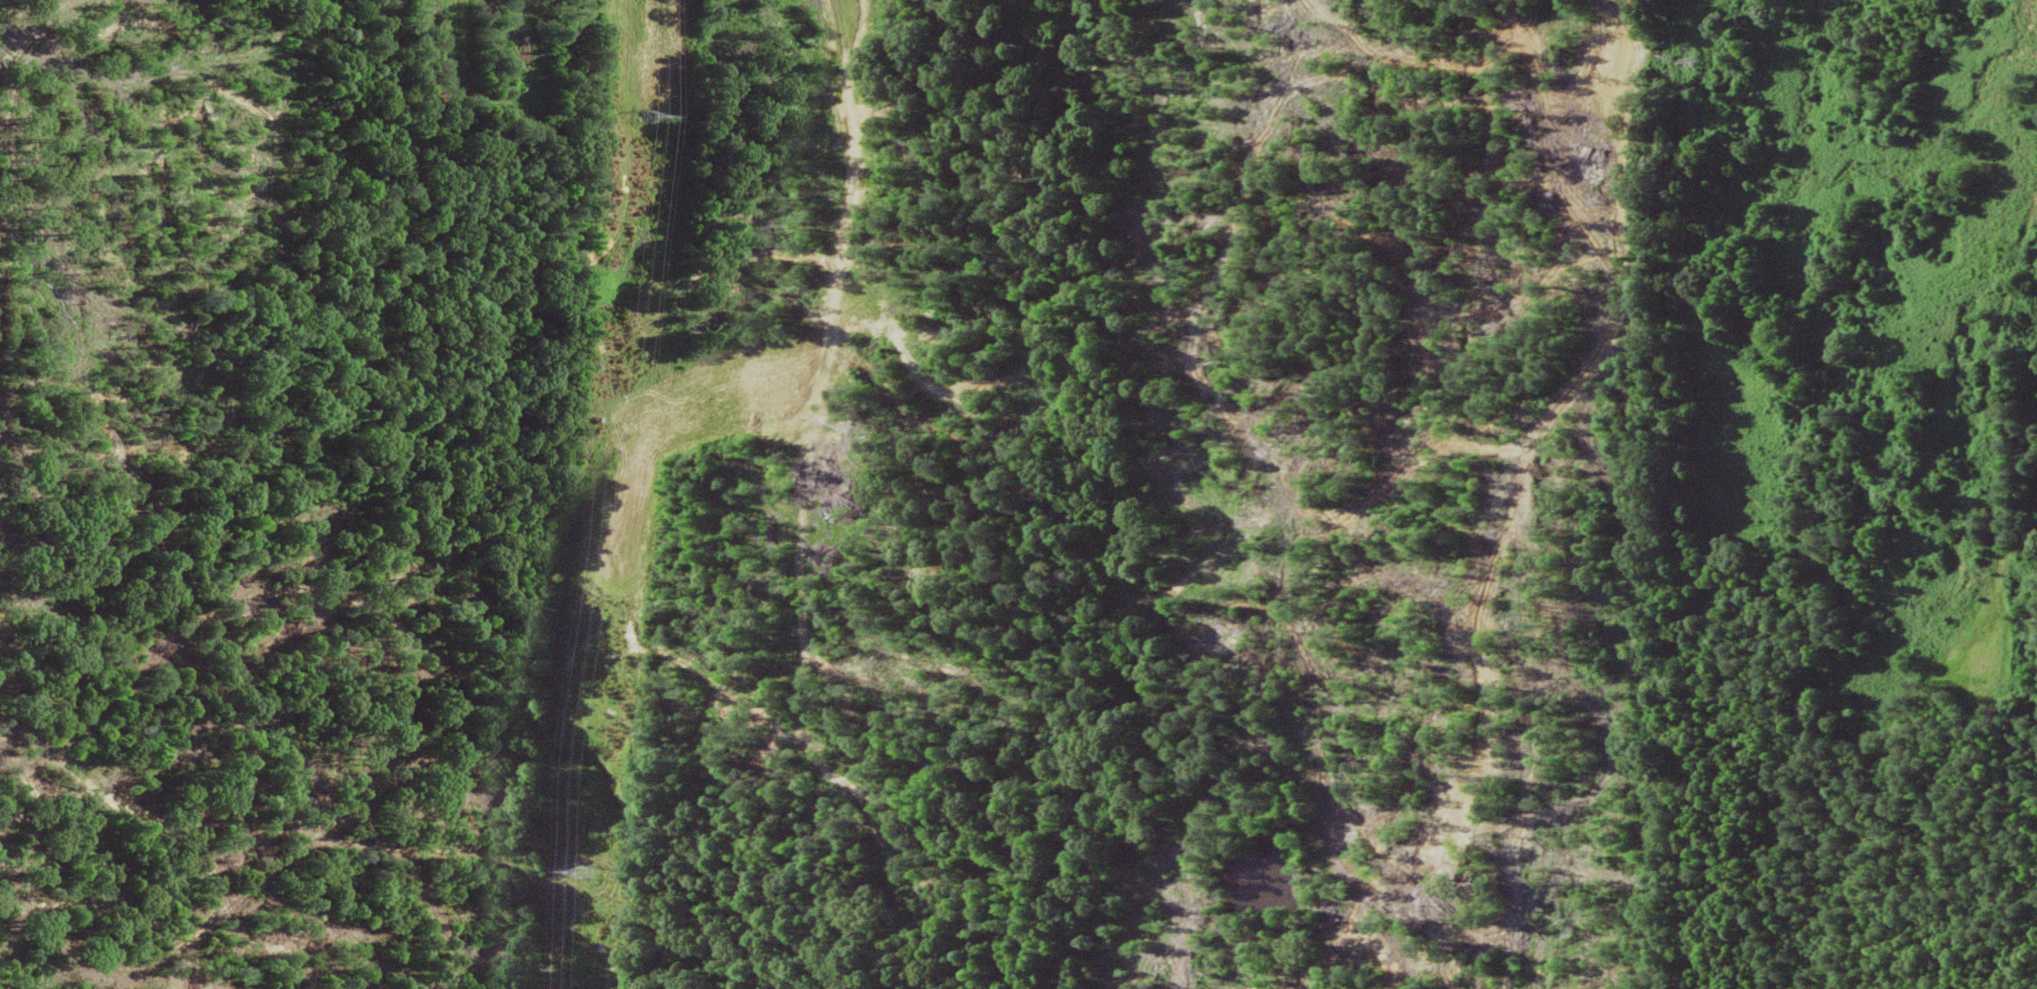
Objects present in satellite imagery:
power tower: (641, 115)
power tower: (591, 873)

